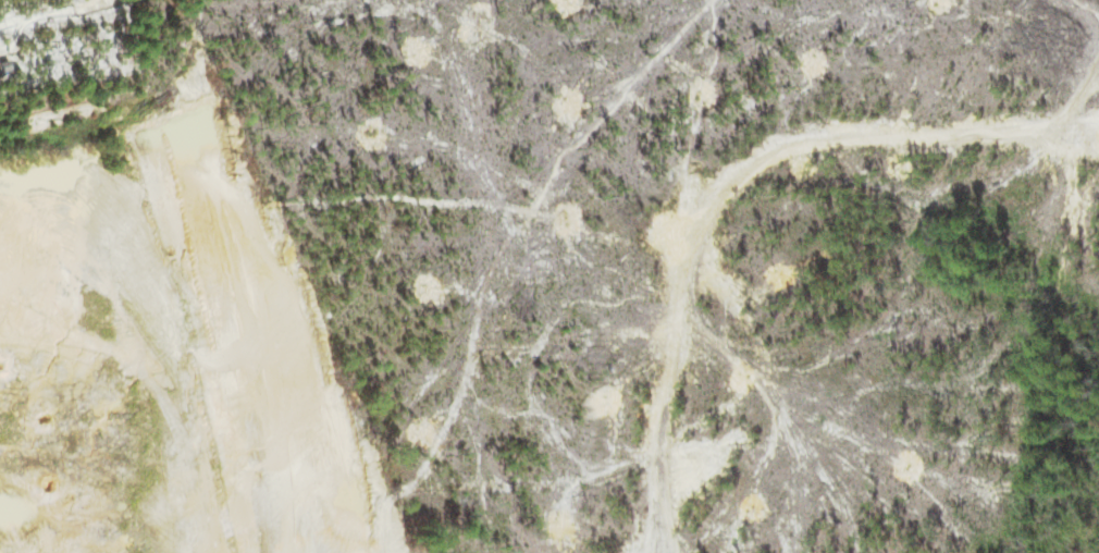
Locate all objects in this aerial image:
road: (50, 11)
building: (2, 67)

